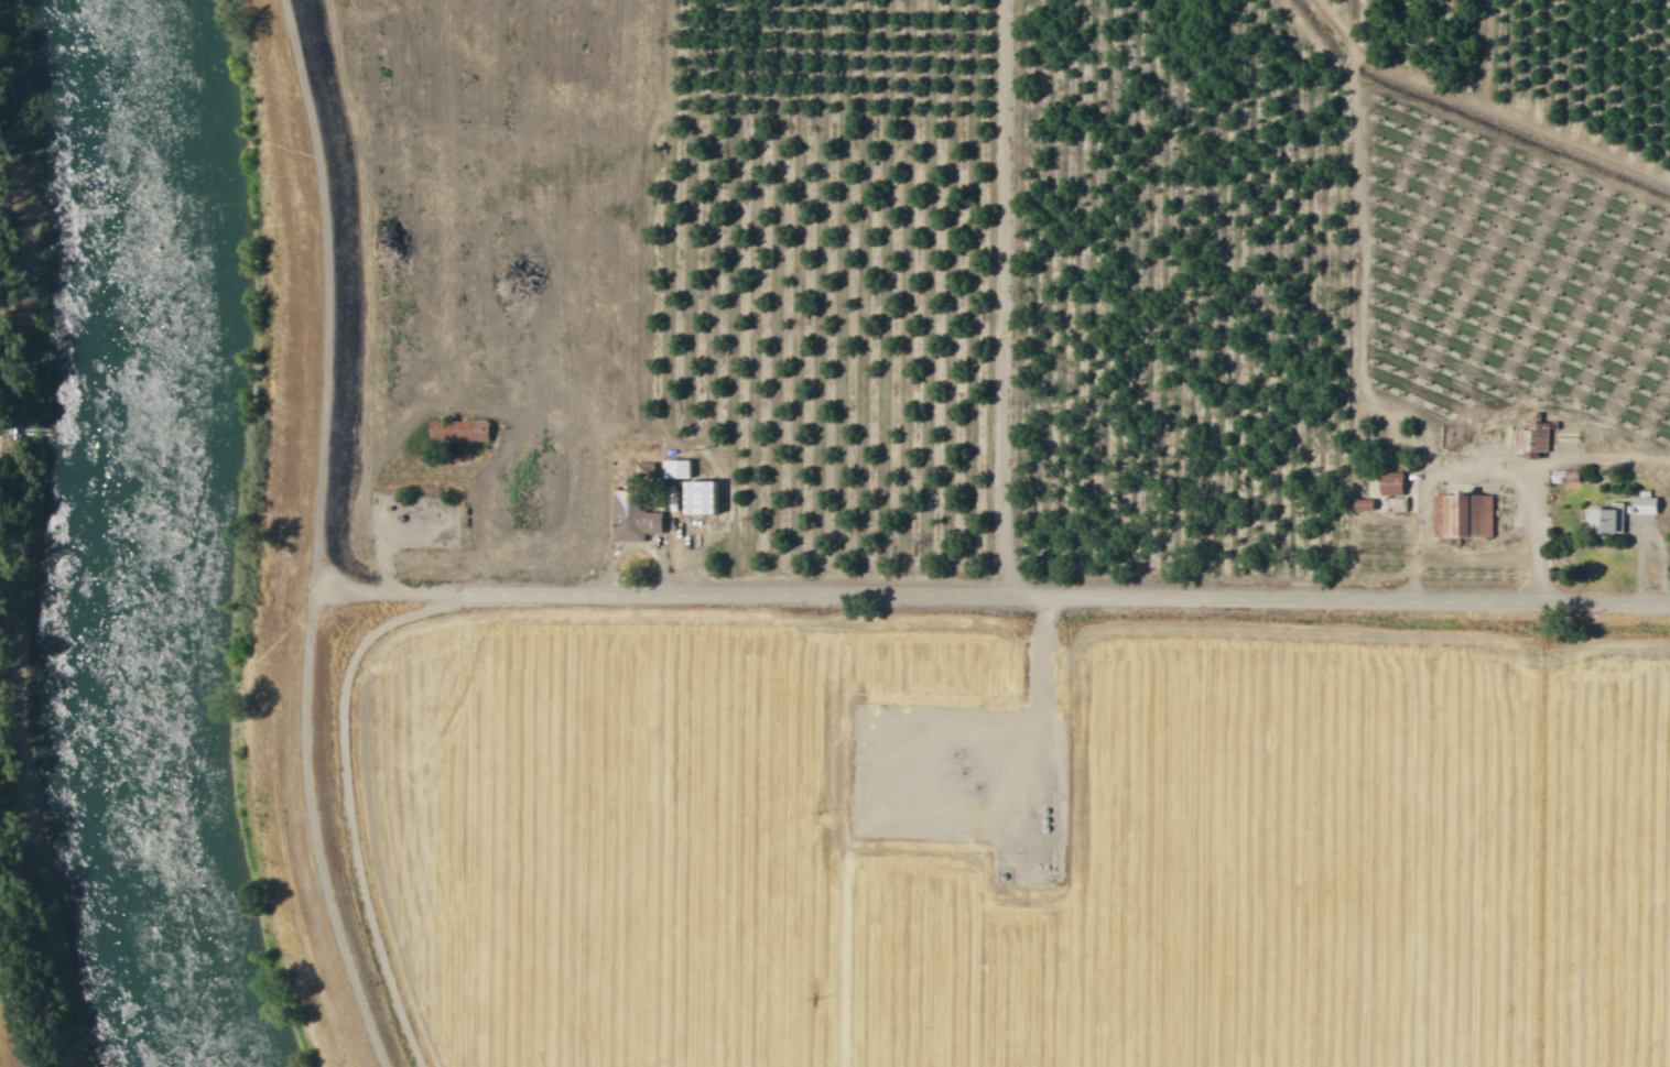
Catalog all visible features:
road: (316, 294)
building: (456, 431)
building: (1536, 439)
building: (679, 468)
building: (1394, 489)
building: (704, 497)
building: (1465, 514)
building: (637, 515)
building: (1609, 519)
river: (135, 538)
road: (996, 598)
road: (323, 832)

